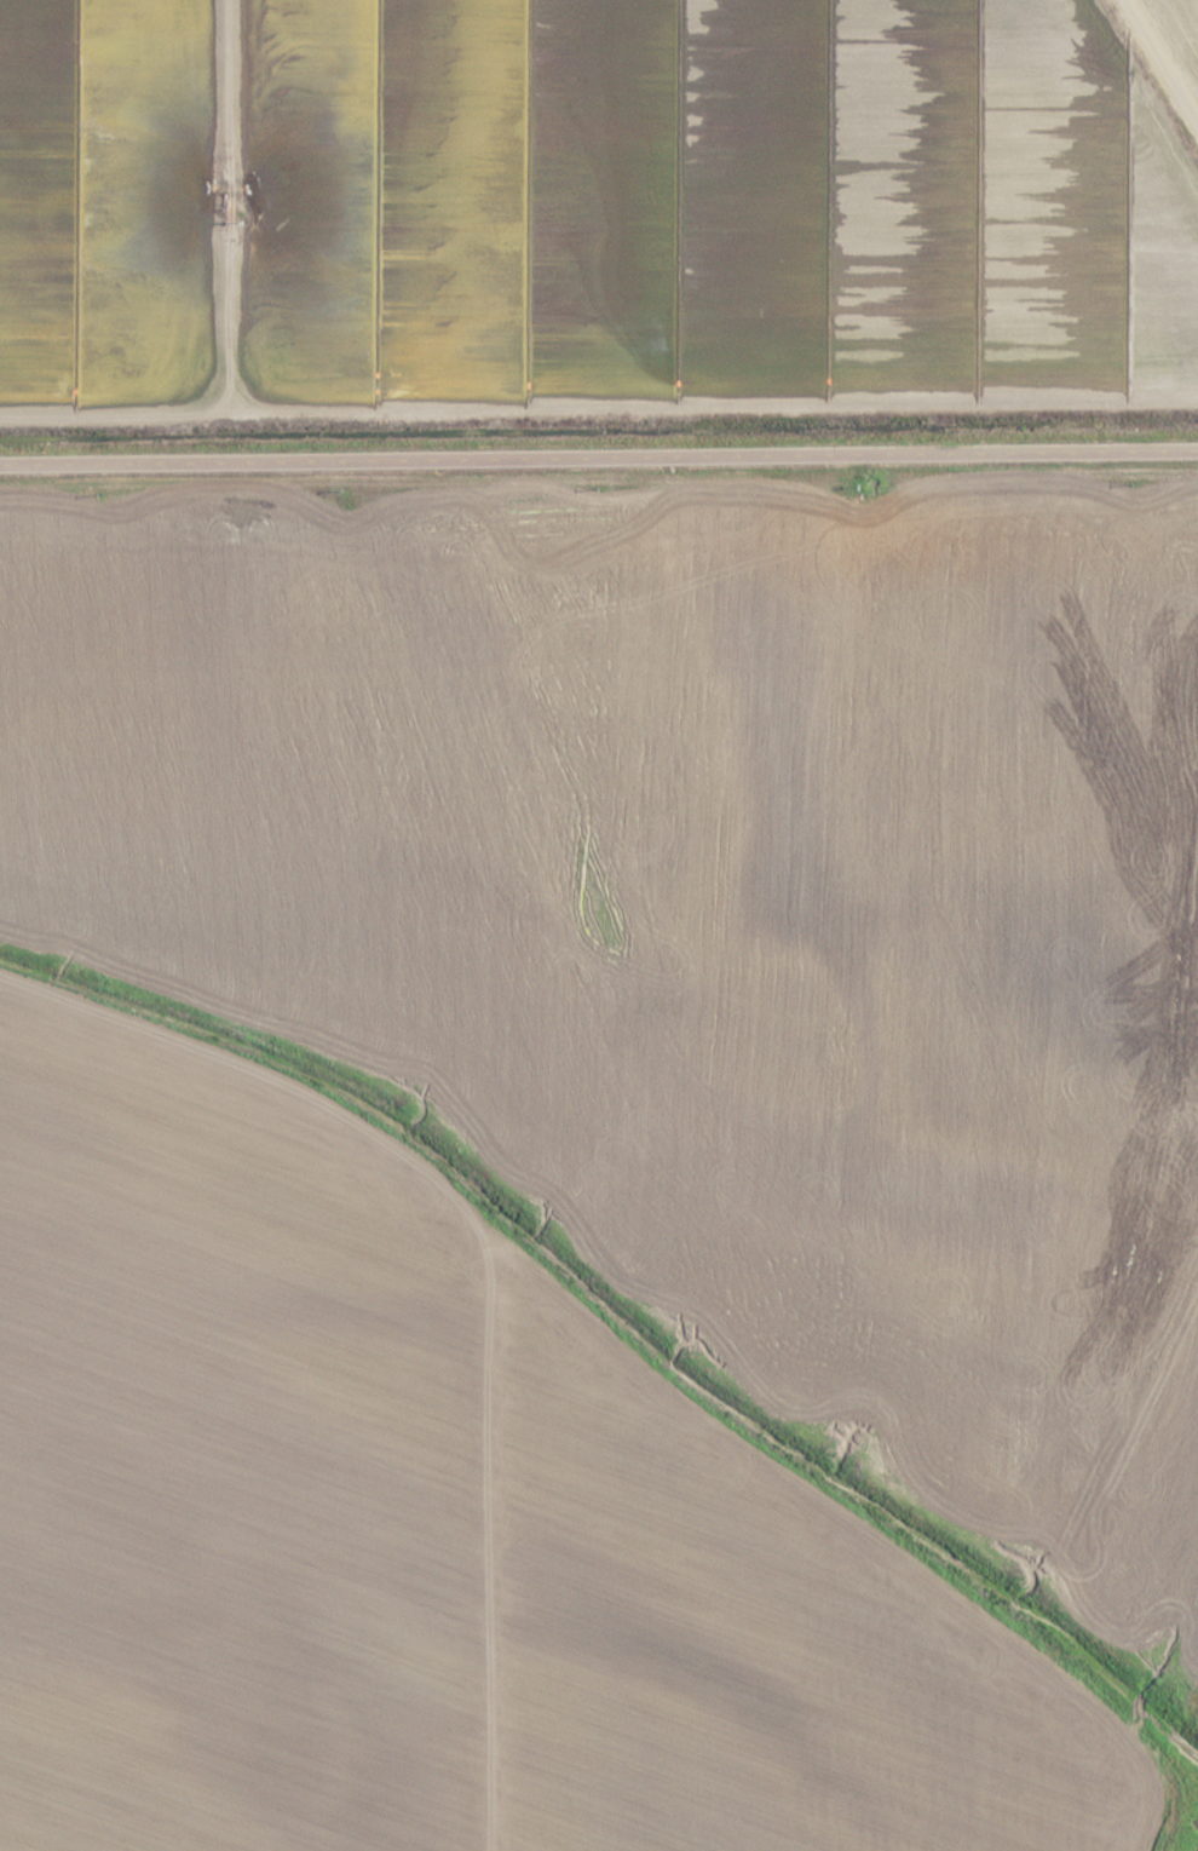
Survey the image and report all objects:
road: (1156, 71)
road: (598, 455)

